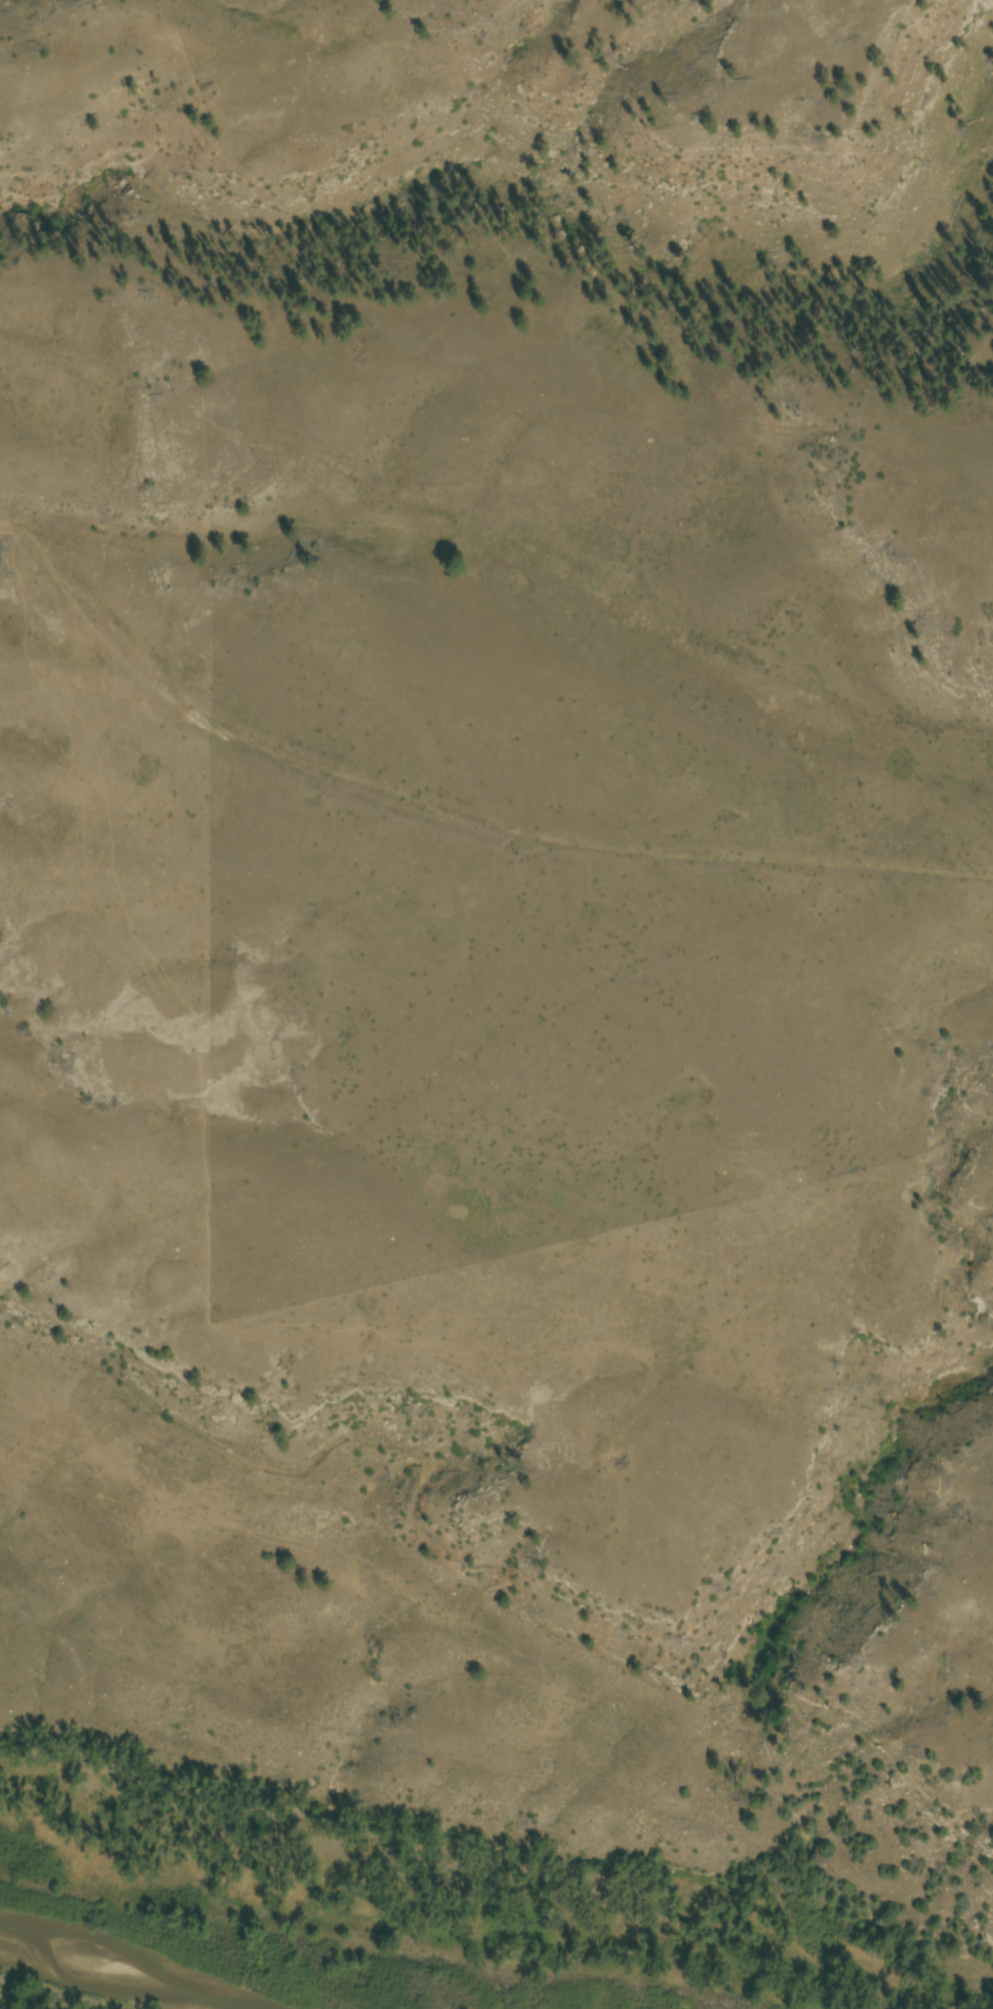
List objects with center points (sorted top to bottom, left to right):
river: (316, 1959)

